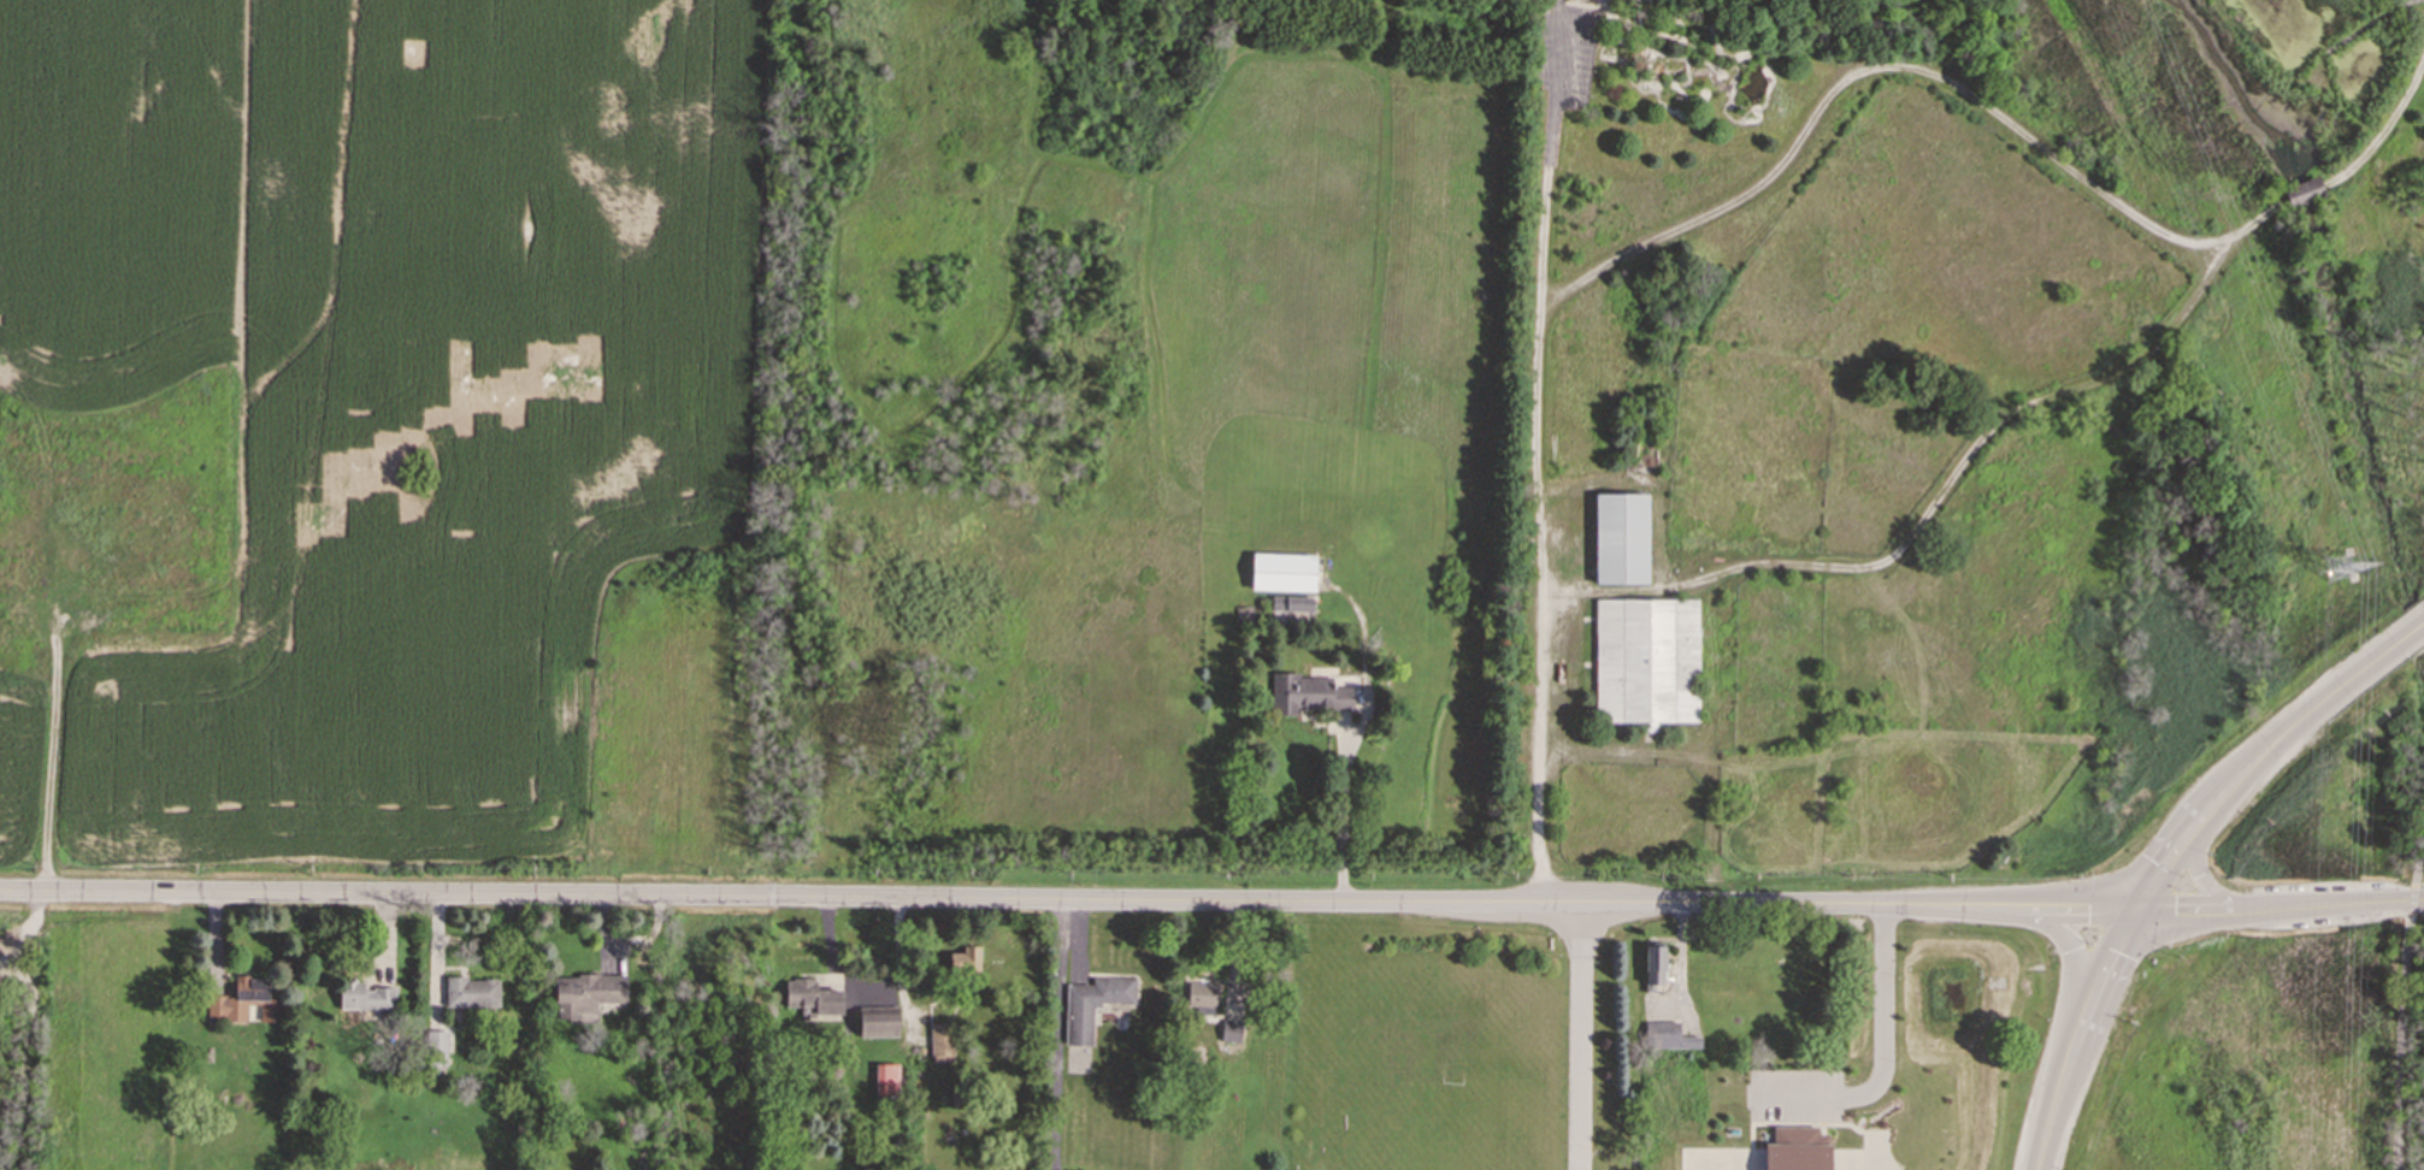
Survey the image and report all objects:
building: (1583, 0)
building: (2302, 191)
crop: (355, 402)
road: (1534, 459)
building: (1620, 537)
building: (1282, 571)
power tower: (2339, 573)
building: (1291, 603)
building: (1646, 660)
building: (1307, 693)
road: (2307, 707)
road: (2164, 858)
road: (2202, 884)
road: (962, 898)
road: (2348, 903)
road: (2027, 908)
road: (2201, 910)
traffic signals: (2129, 911)
crop: (7, 957)
building: (963, 959)
building: (1652, 965)
road: (2072, 968)
building: (471, 991)
building: (586, 992)
building: (364, 995)
building: (810, 997)
road: (2400, 997)
building: (1201, 998)
building: (244, 1000)
building: (878, 1021)
building: (1078, 1024)
road: (2078, 1024)
building: (1231, 1029)
road: (1061, 1035)
building: (1667, 1035)
road: (1579, 1036)
building: (940, 1042)
building: (437, 1047)
road: (1880, 1057)
building: (885, 1079)
building: (1795, 1148)
road: (2039, 1157)
road: (1880, 1163)

